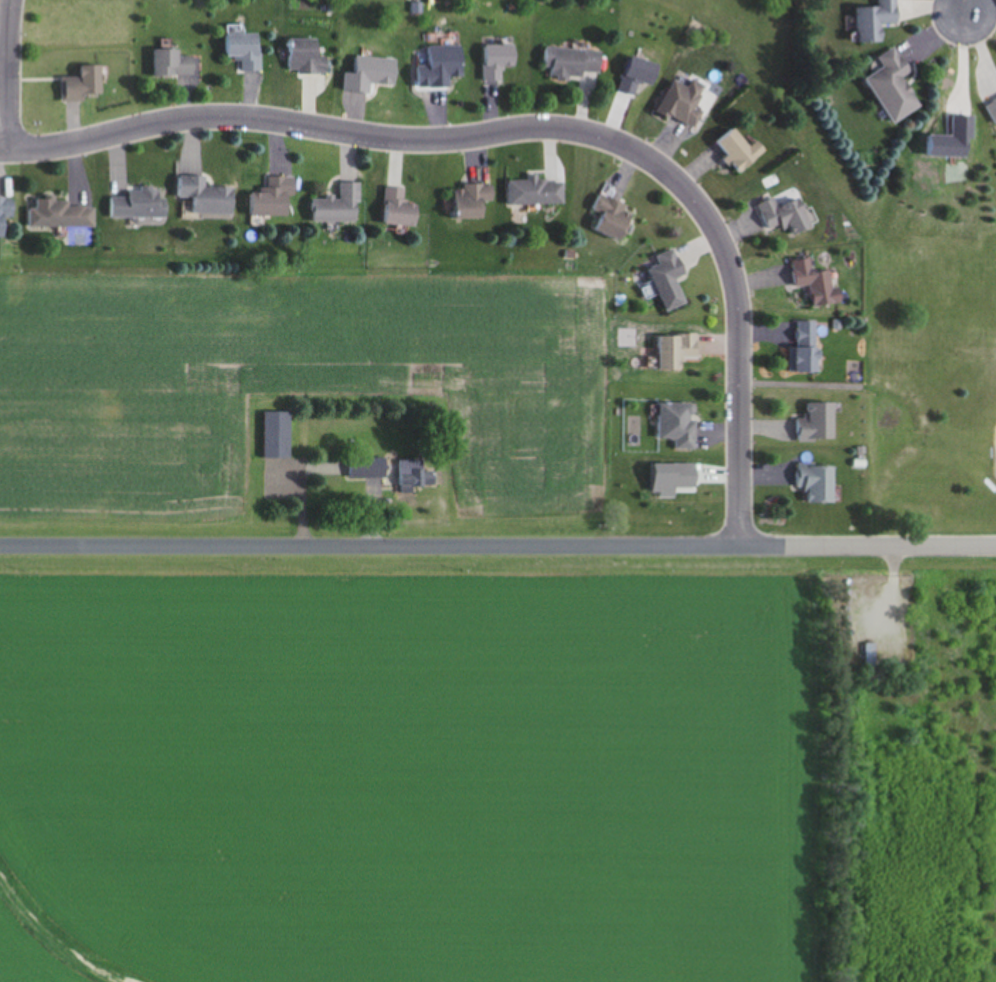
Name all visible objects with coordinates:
road: (963, 7)
building: (876, 21)
building: (248, 51)
building: (310, 57)
building: (500, 61)
building: (574, 63)
building: (176, 64)
building: (447, 65)
road: (9, 74)
building: (85, 85)
building: (895, 86)
building: (685, 103)
building: (992, 110)
road: (532, 128)
building: (740, 150)
building: (538, 192)
building: (209, 197)
building: (276, 199)
building: (475, 202)
building: (141, 205)
building: (341, 206)
building: (402, 208)
building: (6, 215)
building: (62, 216)
building: (785, 216)
building: (614, 218)
park: (863, 279)
building: (671, 281)
building: (818, 284)
building: (809, 347)
building: (679, 353)
crop: (293, 391)
building: (819, 423)
building: (680, 425)
building: (278, 435)
building: (368, 469)
building: (416, 476)
building: (820, 483)
road: (369, 545)
road: (867, 545)
crop: (498, 768)

